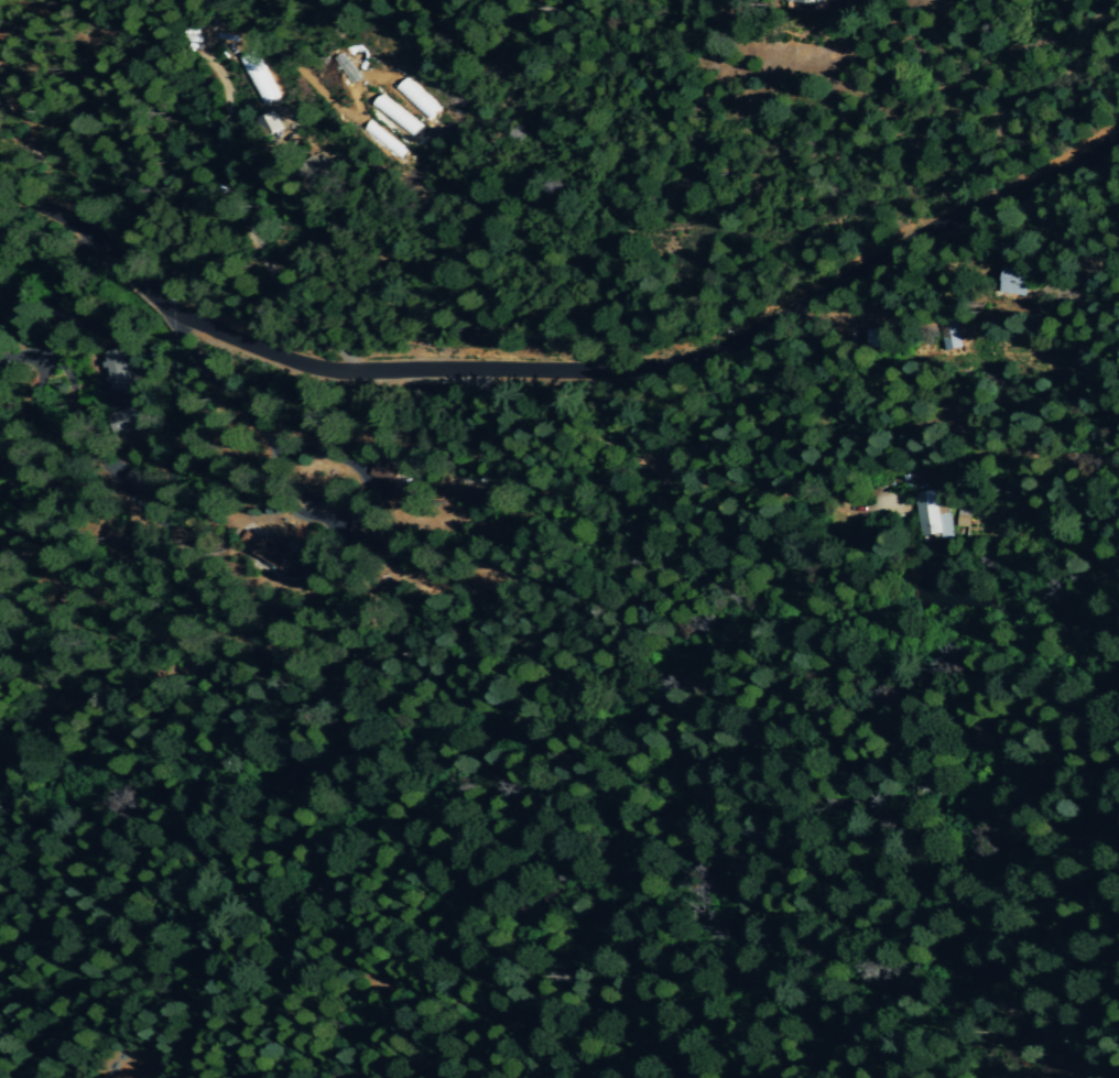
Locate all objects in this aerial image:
building: (814, 2)
road: (563, 372)
building: (931, 513)

